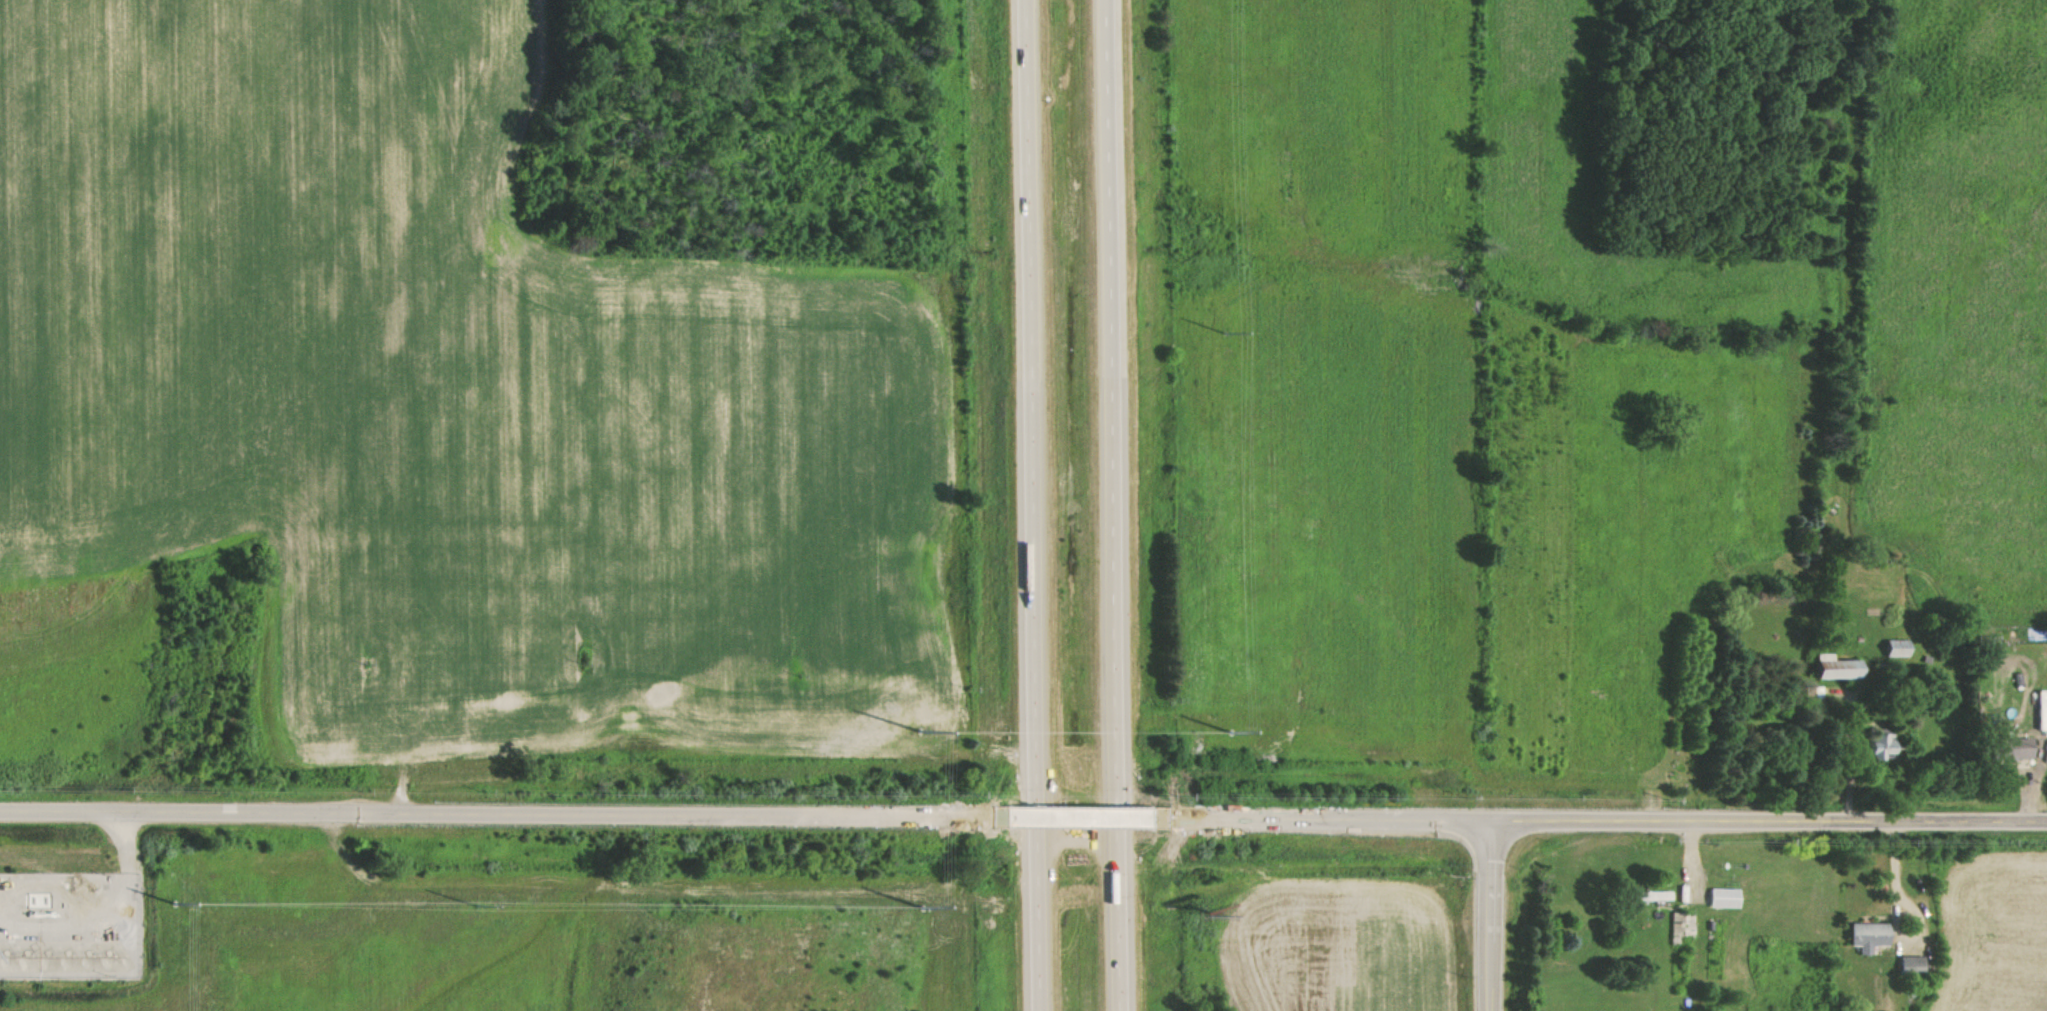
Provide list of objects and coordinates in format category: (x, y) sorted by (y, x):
power tower: (1221, 329)
road: (1030, 505)
road: (1110, 505)
building: (1893, 647)
building: (1828, 667)
power tower: (917, 731)
power tower: (1228, 731)
building: (1878, 745)
building: (2012, 748)
road: (499, 815)
road: (1077, 819)
road: (1601, 820)
road: (127, 843)
building: (1650, 895)
building: (1720, 897)
power tower: (177, 903)
building: (1711, 903)
power tower: (478, 904)
power tower: (918, 909)
road: (1487, 915)
power substation: (71, 926)
building: (1679, 926)
building: (1864, 936)
building: (1908, 965)

